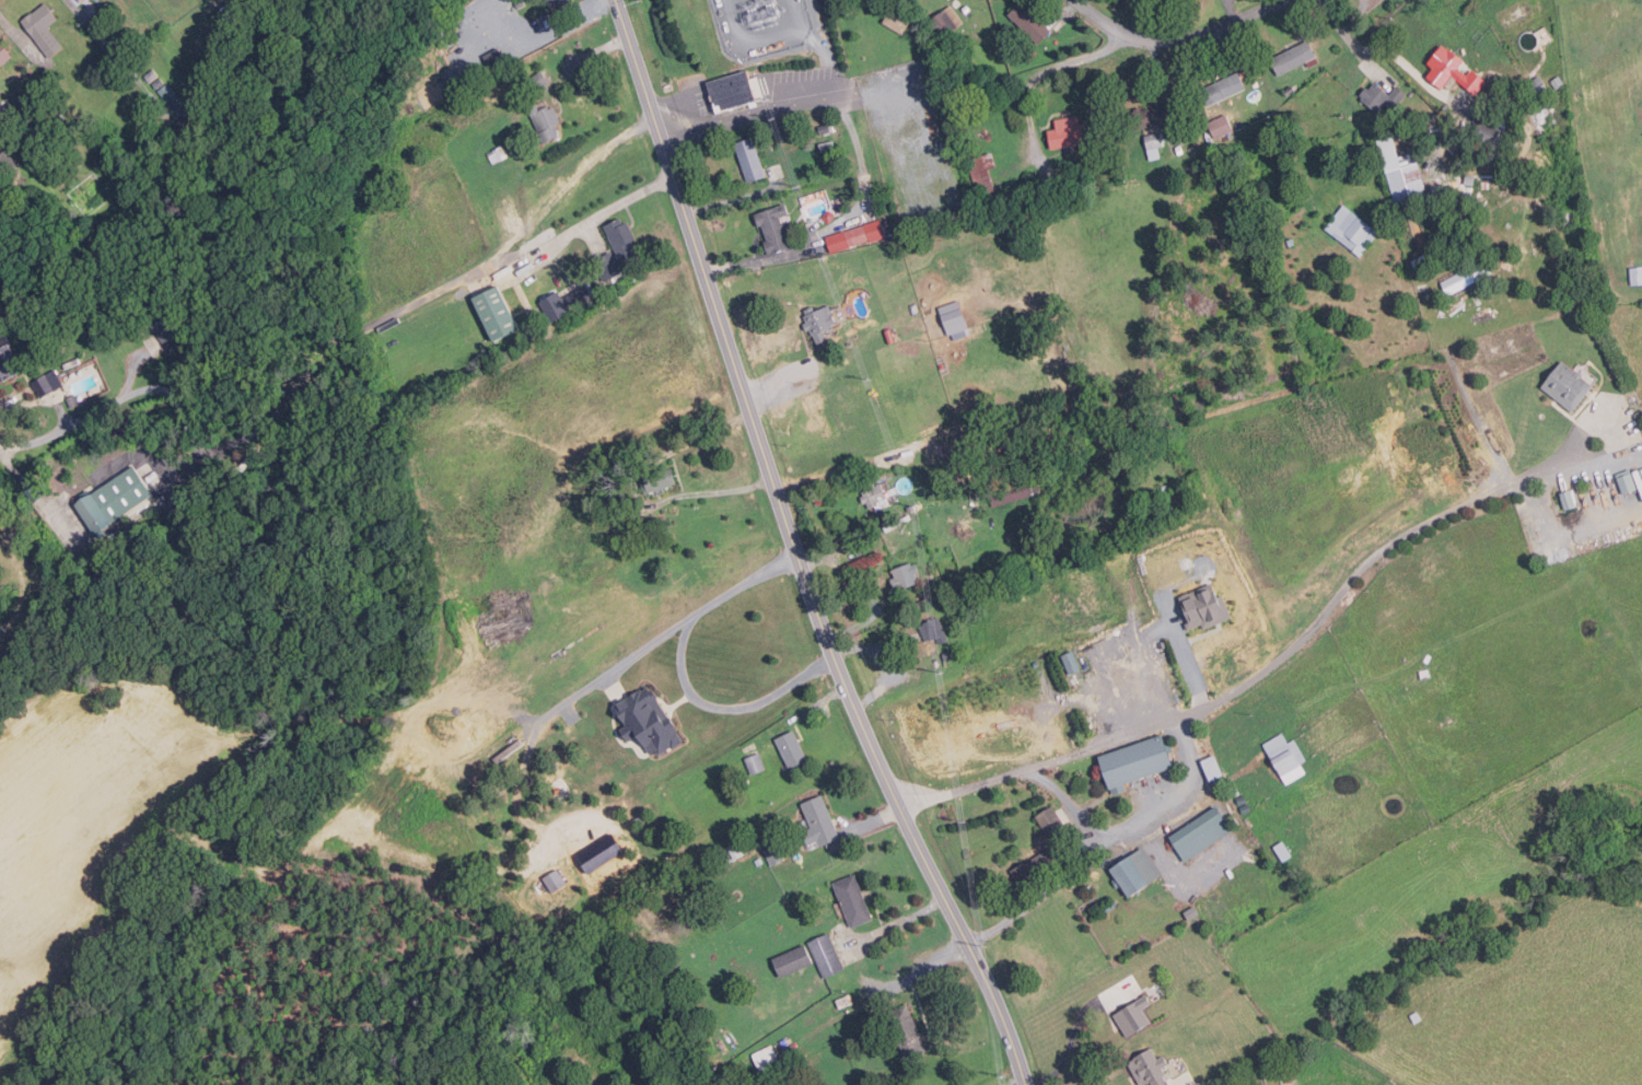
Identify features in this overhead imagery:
building: (74, 0)
building: (84, 0)
building: (478, 0)
building: (557, 2)
building: (233, 3)
building: (521, 3)
building: (526, 11)
building: (900, 20)
road: (1336, 20)
building: (947, 21)
building: (1030, 22)
power substation: (762, 25)
building: (44, 27)
road: (1181, 39)
building: (4, 54)
building: (496, 57)
building: (1293, 57)
road: (1399, 57)
building: (1449, 69)
building: (152, 73)
building: (540, 80)
building: (1556, 81)
building: (159, 82)
building: (32, 83)
building: (1535, 84)
building: (1224, 89)
building: (736, 90)
building: (167, 92)
building: (1381, 96)
building: (1149, 116)
building: (547, 121)
building: (186, 125)
building: (1221, 126)
building: (826, 128)
building: (1486, 131)
building: (1069, 132)
building: (1447, 136)
building: (1152, 140)
building: (828, 144)
building: (1479, 145)
building: (30, 149)
building: (499, 154)
building: (3, 155)
building: (750, 160)
building: (1513, 172)
building: (983, 176)
building: (1400, 178)
building: (1468, 178)
building: (1063, 185)
building: (1350, 230)
building: (778, 233)
building: (857, 236)
road: (524, 240)
building: (1290, 241)
building: (617, 249)
building: (1634, 273)
building: (568, 301)
building: (500, 313)
building: (919, 319)
building: (820, 323)
road: (723, 329)
building: (168, 330)
building: (890, 336)
building: (850, 342)
building: (9, 362)
building: (900, 364)
building: (49, 384)
building: (1564, 384)
road: (40, 399)
building: (74, 400)
road: (264, 425)
building: (1640, 469)
building: (660, 478)
building: (1624, 483)
building: (30, 488)
road: (634, 489)
building: (1014, 491)
building: (874, 493)
building: (1565, 499)
building: (115, 500)
building: (175, 505)
building: (647, 527)
building: (908, 575)
building: (1208, 606)
building: (933, 629)
building: (1123, 632)
building: (950, 654)
building: (1038, 663)
building: (1072, 663)
building: (938, 666)
road: (684, 673)
road: (1249, 676)
building: (1404, 688)
road: (803, 712)
building: (651, 720)
building: (793, 749)
building: (1284, 751)
building: (1139, 760)
building: (757, 762)
building: (1214, 767)
building: (1236, 791)
building: (1243, 800)
building: (1247, 808)
building: (1051, 820)
building: (822, 821)
road: (1142, 822)
building: (1201, 831)
building: (736, 850)
building: (1281, 851)
building: (602, 854)
building: (776, 854)
building: (760, 861)
building: (1043, 864)
road: (932, 871)
building: (1138, 871)
building: (555, 880)
road: (1045, 897)
building: (855, 899)
building: (1113, 905)
building: (1193, 912)
building: (827, 953)
building: (793, 959)
building: (1393, 980)
building: (1136, 1016)
building: (1413, 1016)
building: (909, 1030)
building: (766, 1057)
road: (1074, 1064)
building: (1151, 1067)
building: (1290, 1080)
road: (1013, 1081)

